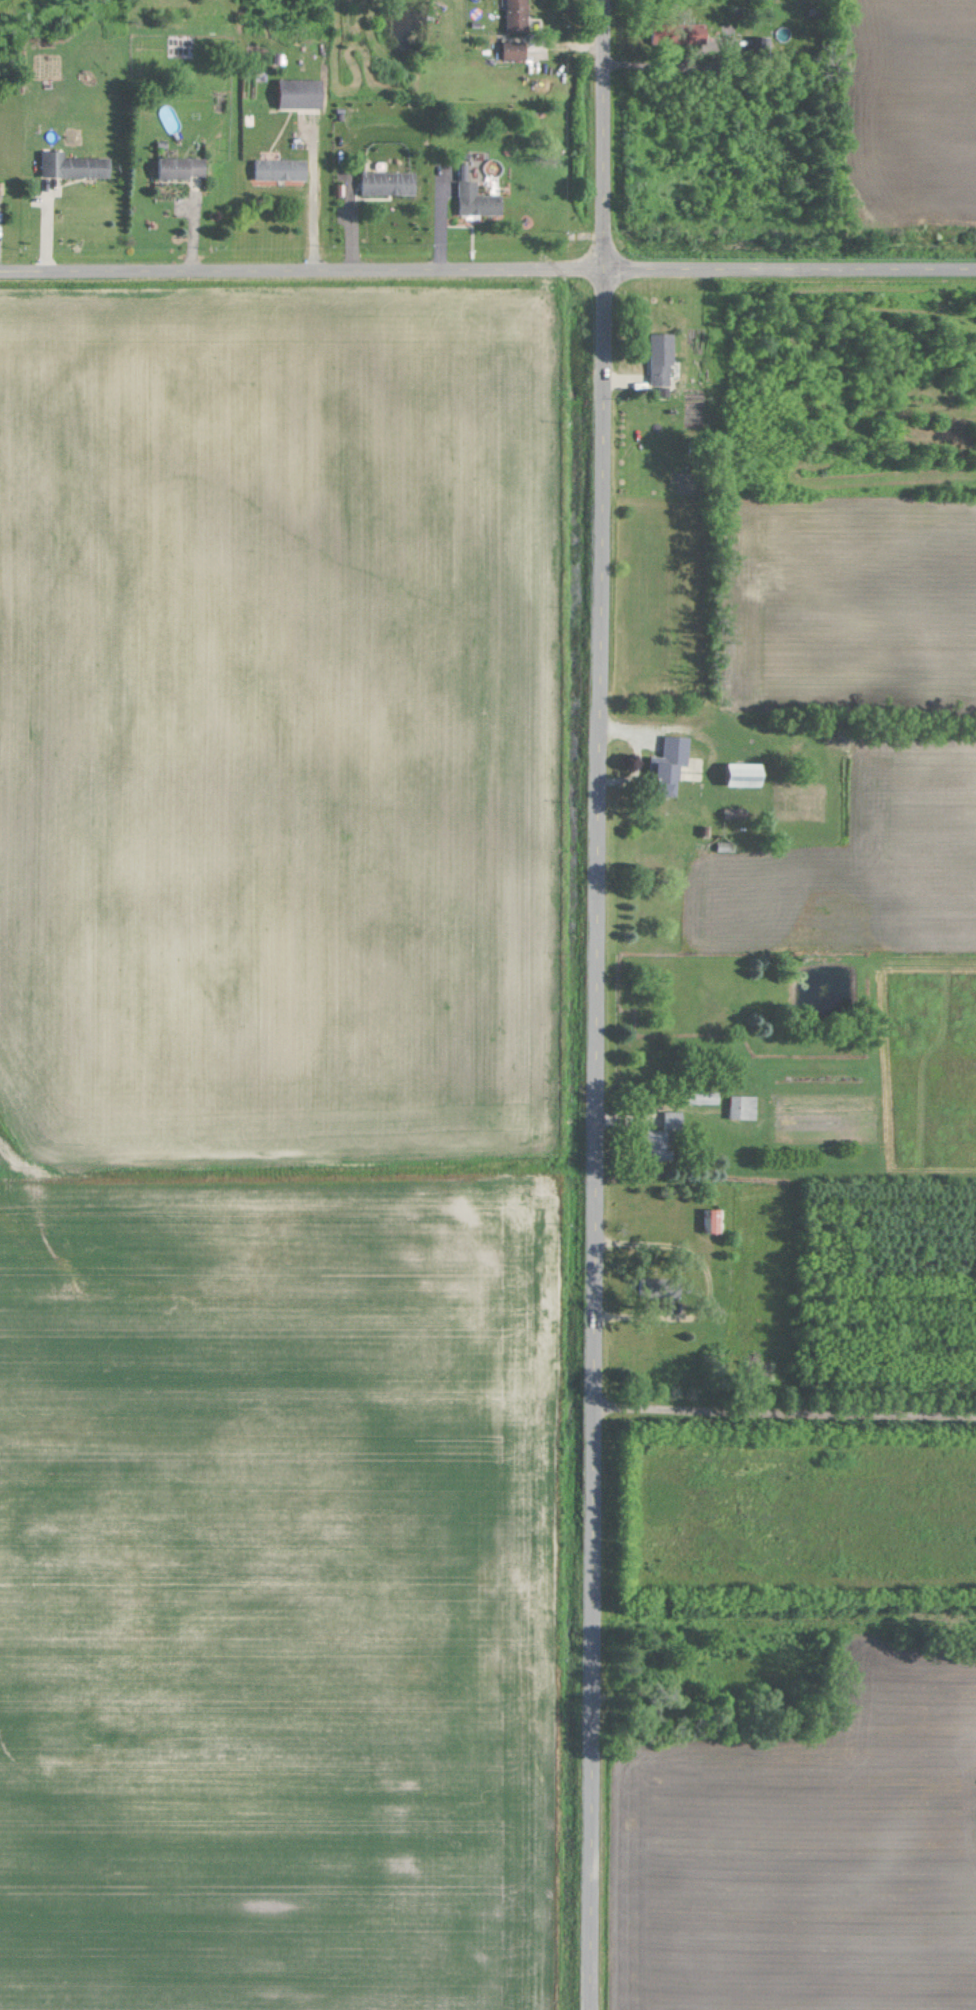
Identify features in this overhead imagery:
building: (517, 16)
building: (694, 33)
building: (514, 50)
road: (707, 76)
building: (301, 93)
building: (72, 165)
building: (181, 167)
building: (280, 169)
building: (388, 183)
building: (476, 201)
road: (487, 271)
building: (662, 359)
building: (671, 767)
building: (746, 775)
road: (597, 1004)
building: (705, 1097)
building: (744, 1106)
building: (666, 1137)
building: (716, 1220)
road: (717, 1288)
road: (784, 1411)

